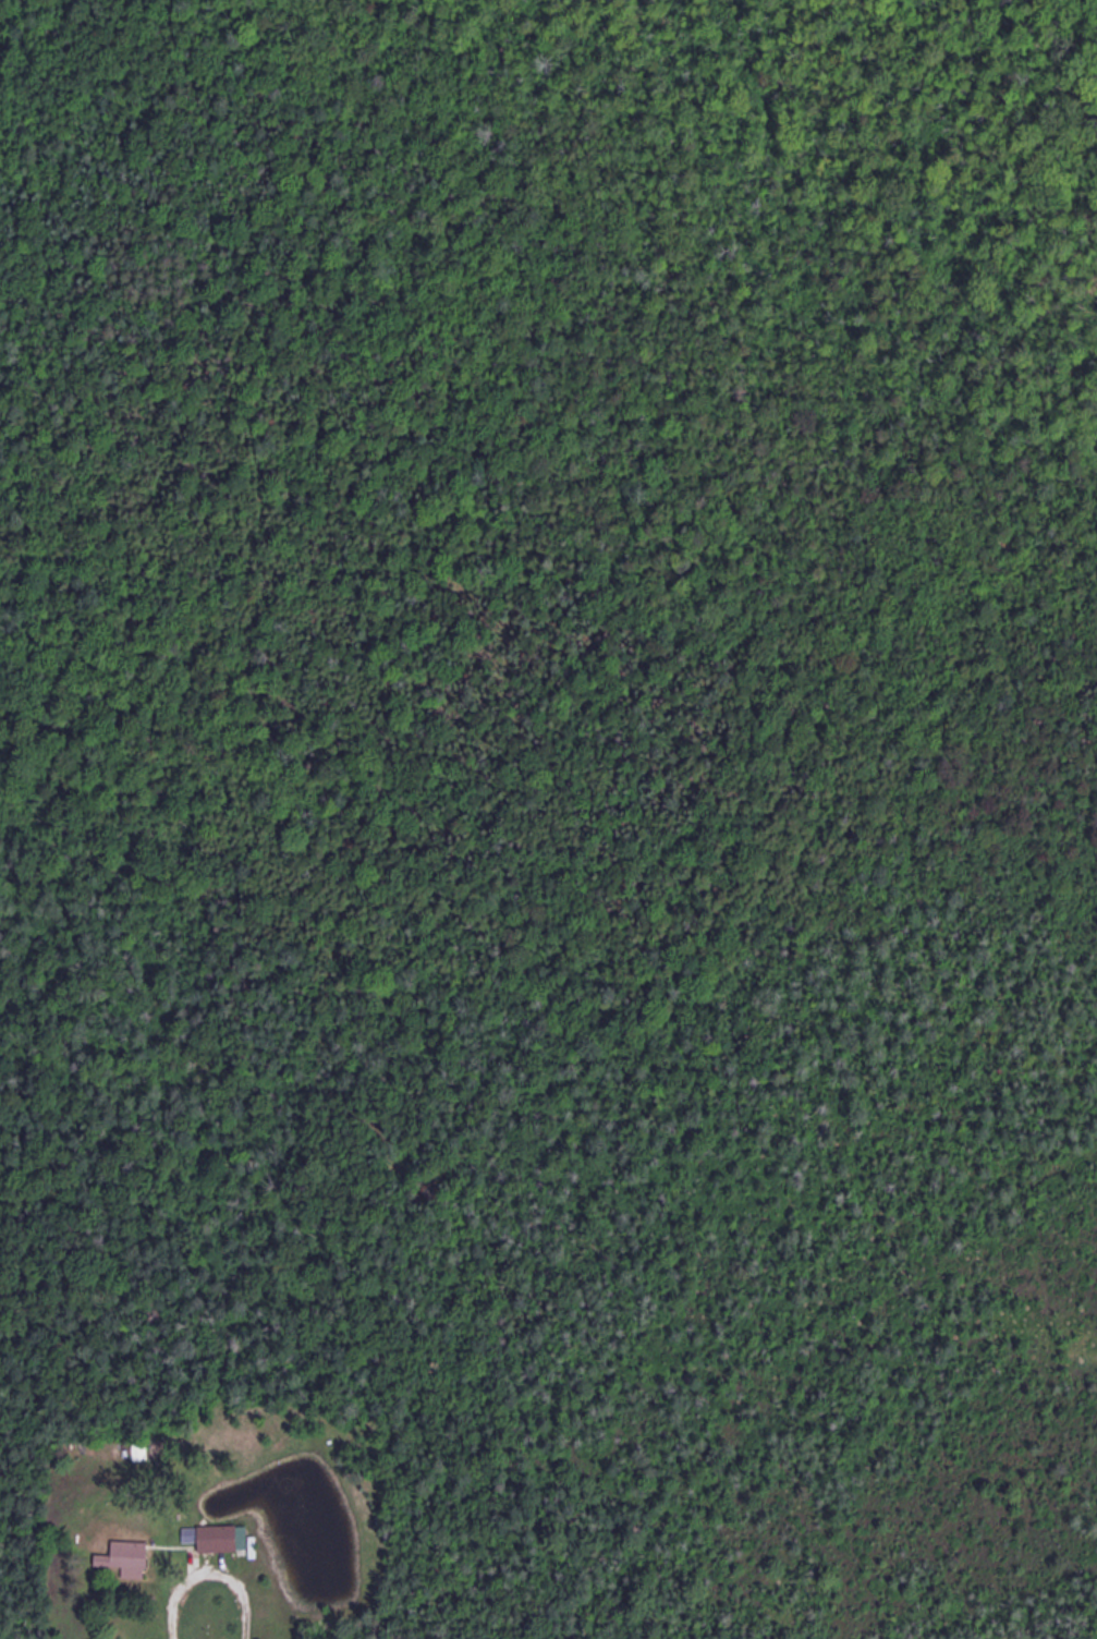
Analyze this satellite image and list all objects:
building: (137, 1450)
building: (217, 1537)
building: (125, 1556)

